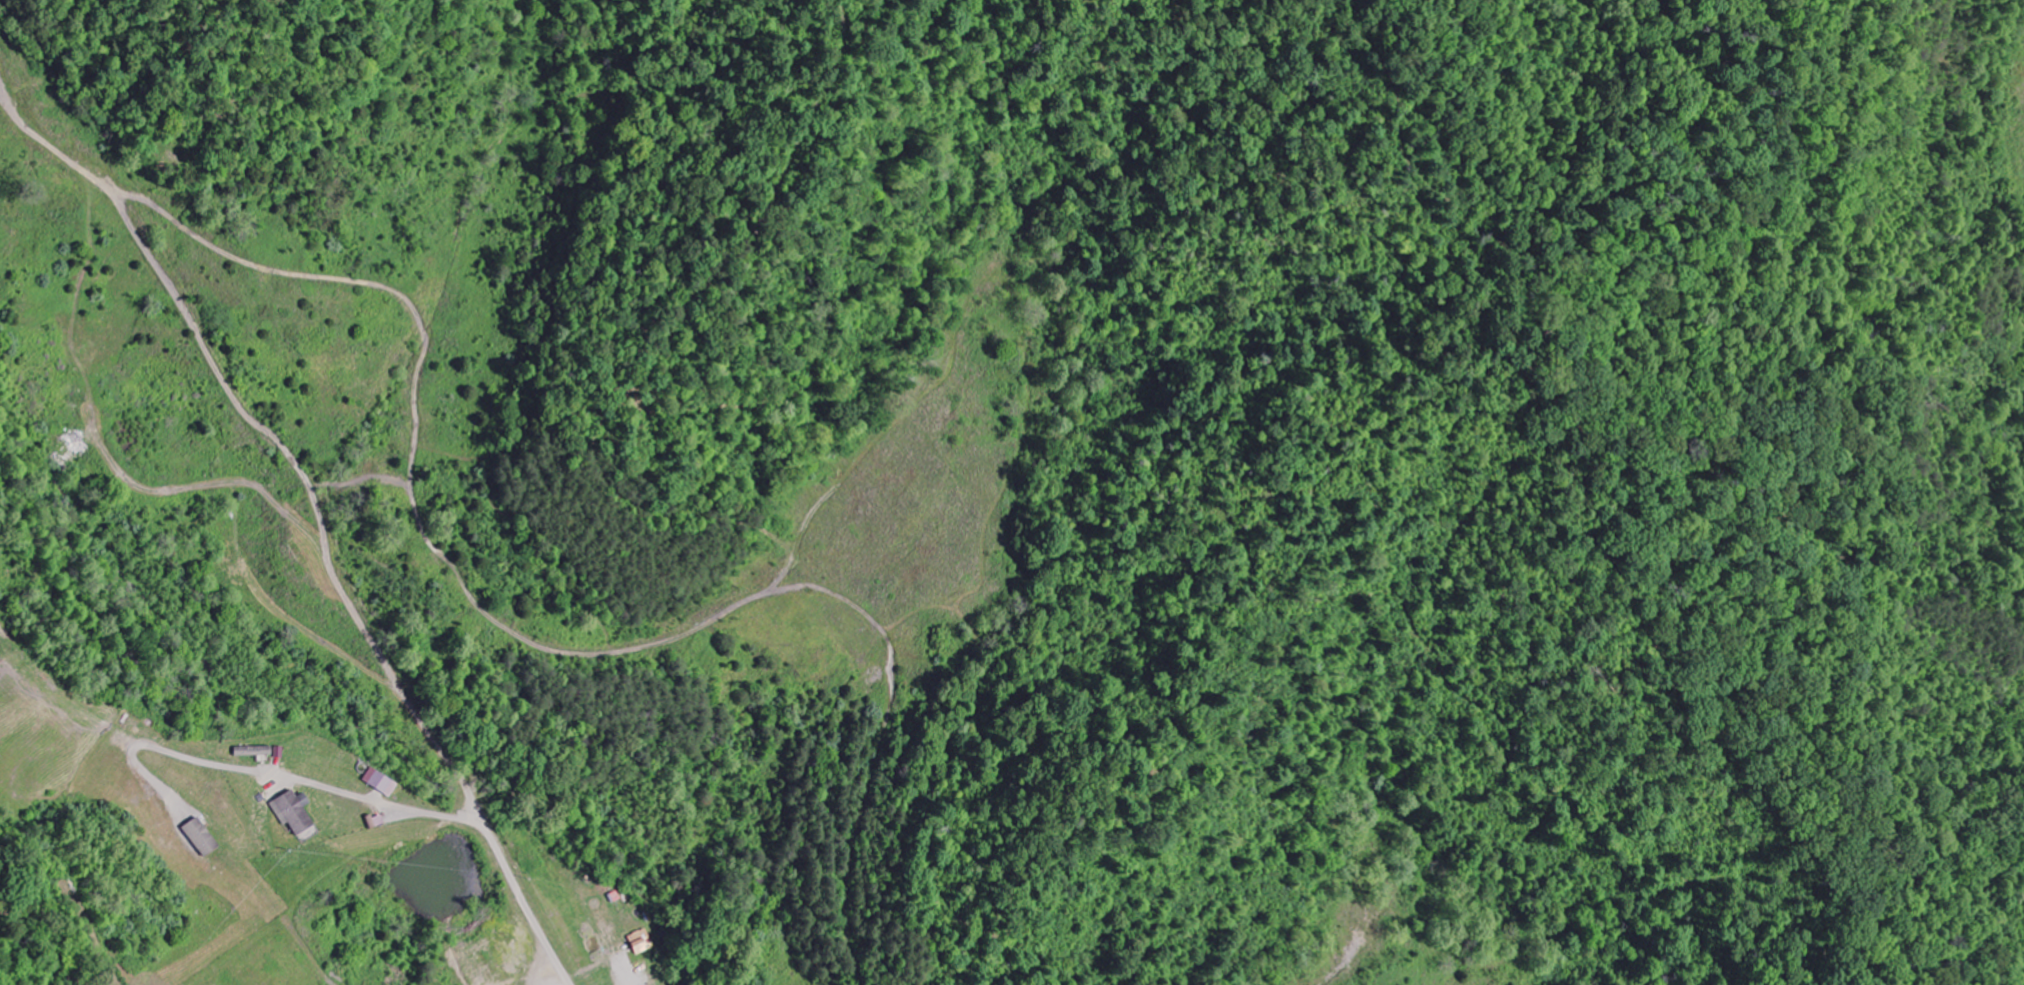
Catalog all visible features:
building: (253, 750)
building: (380, 781)
building: (294, 811)
building: (641, 940)

